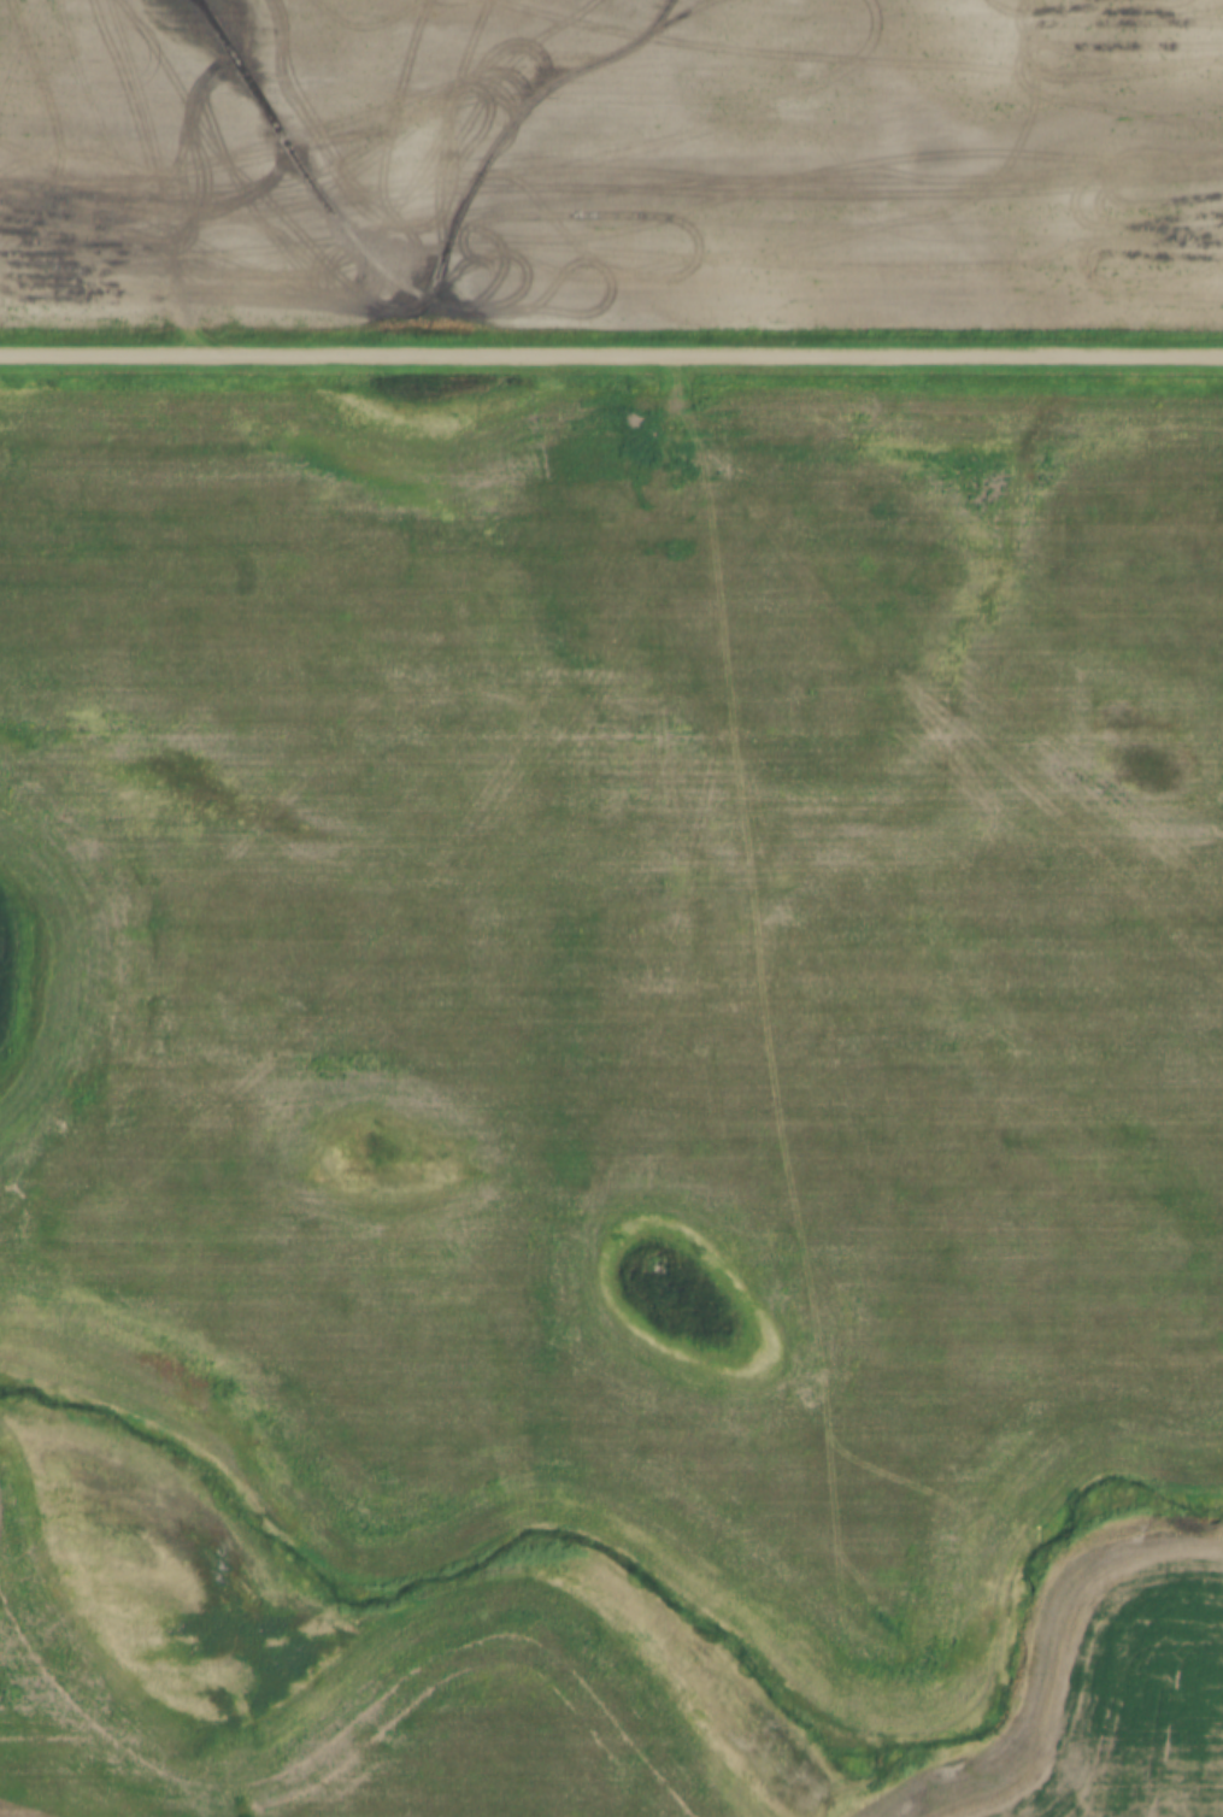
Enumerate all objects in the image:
road: (611, 353)

